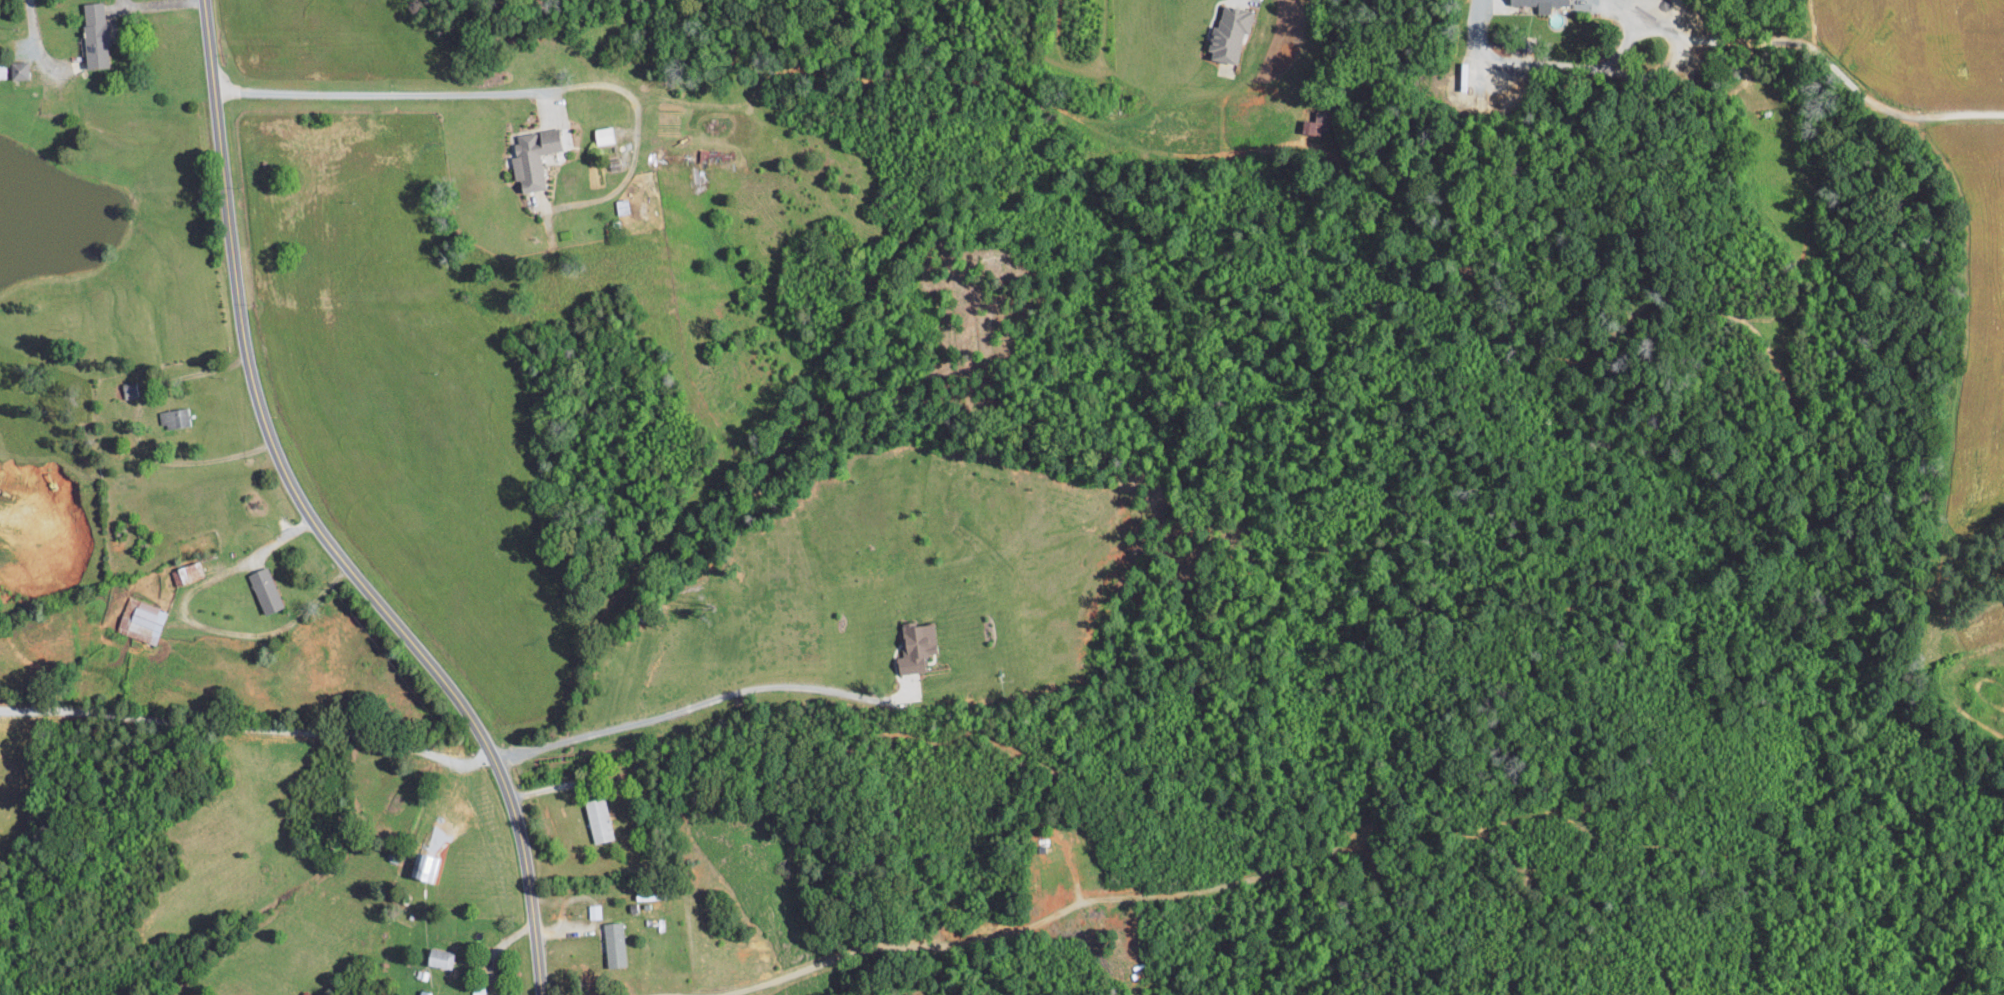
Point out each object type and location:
road: (1494, 1)
road: (156, 3)
building: (1539, 3)
building: (1229, 33)
building: (94, 34)
road: (37, 45)
building: (18, 69)
building: (2, 70)
road: (394, 93)
building: (603, 135)
road: (636, 135)
building: (532, 156)
building: (173, 417)
road: (138, 433)
road: (315, 522)
building: (190, 572)
building: (264, 590)
building: (143, 622)
road: (196, 622)
building: (915, 646)
road: (703, 702)
road: (249, 731)
road: (558, 785)
building: (598, 819)
building: (424, 867)
building: (594, 911)
building: (614, 944)
road: (496, 950)
building: (439, 958)

